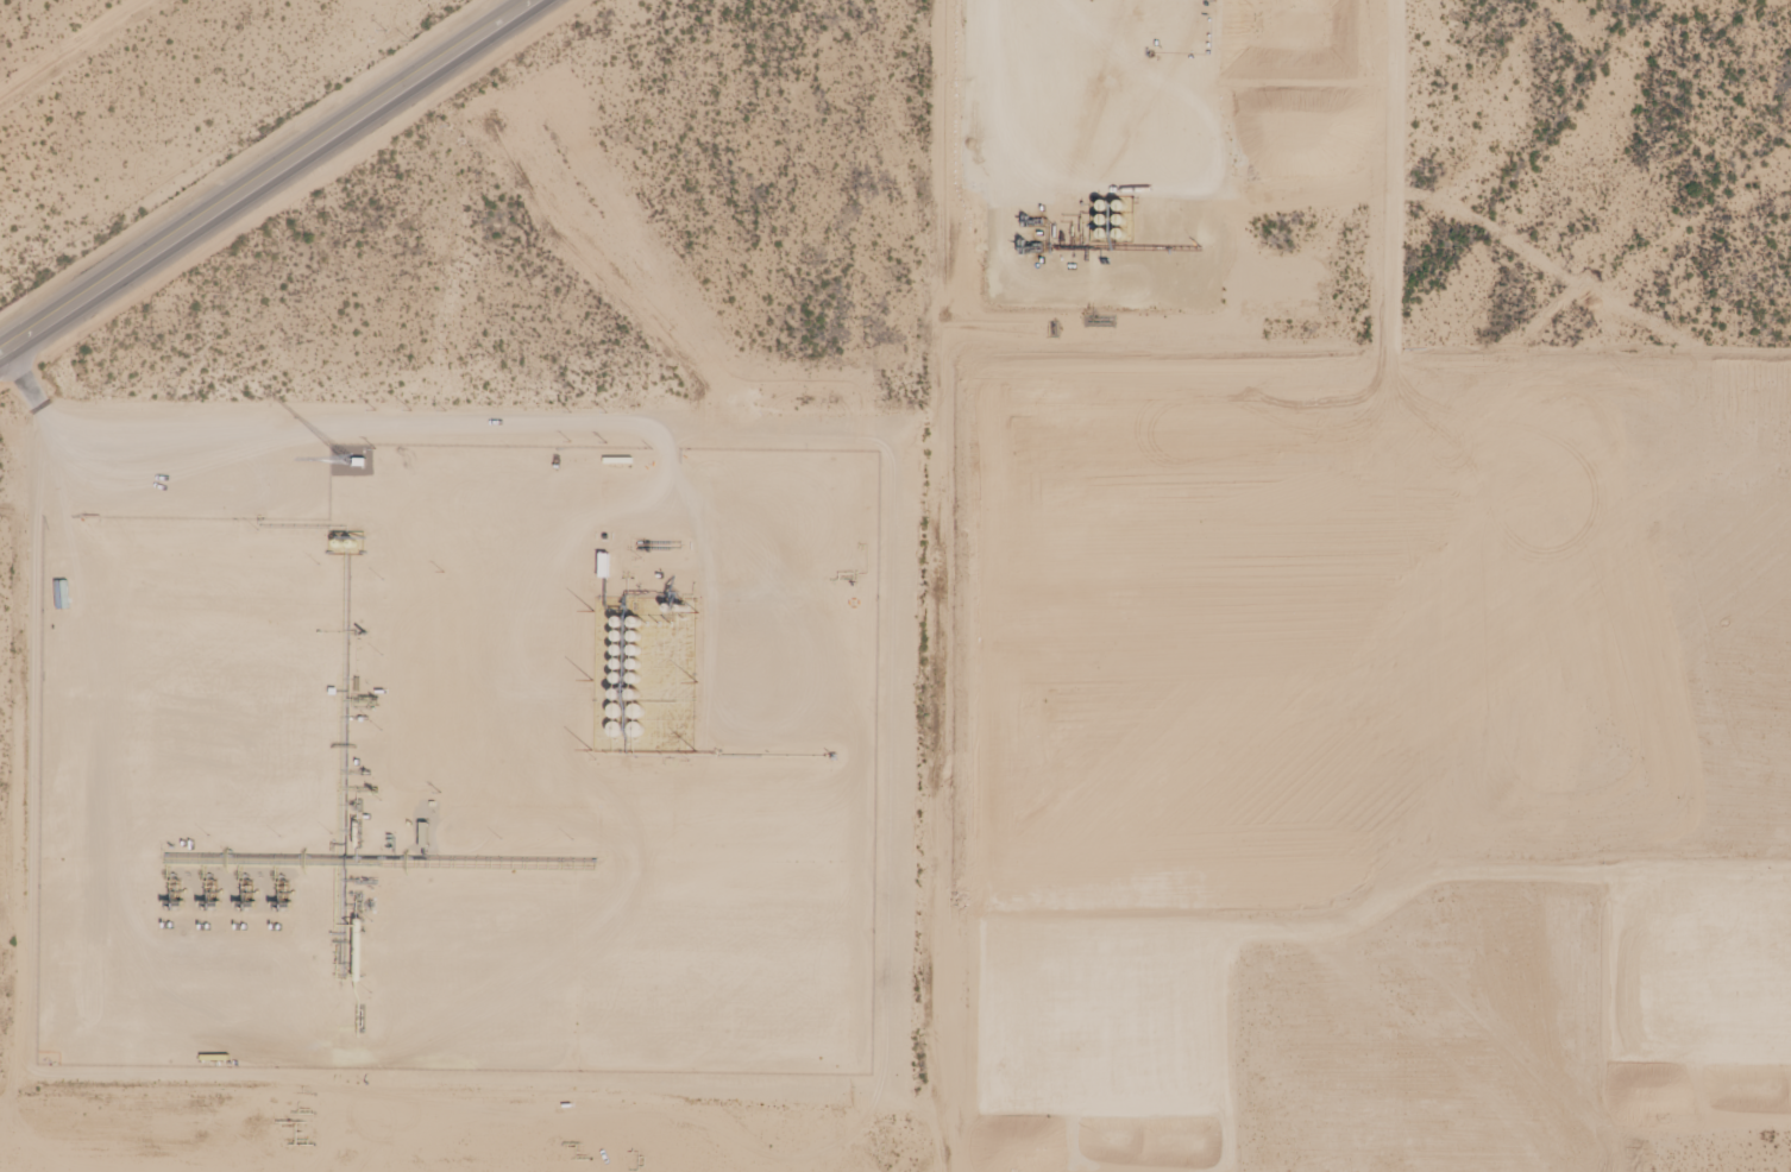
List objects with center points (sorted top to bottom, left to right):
road: (1018, 63)
road: (268, 176)

